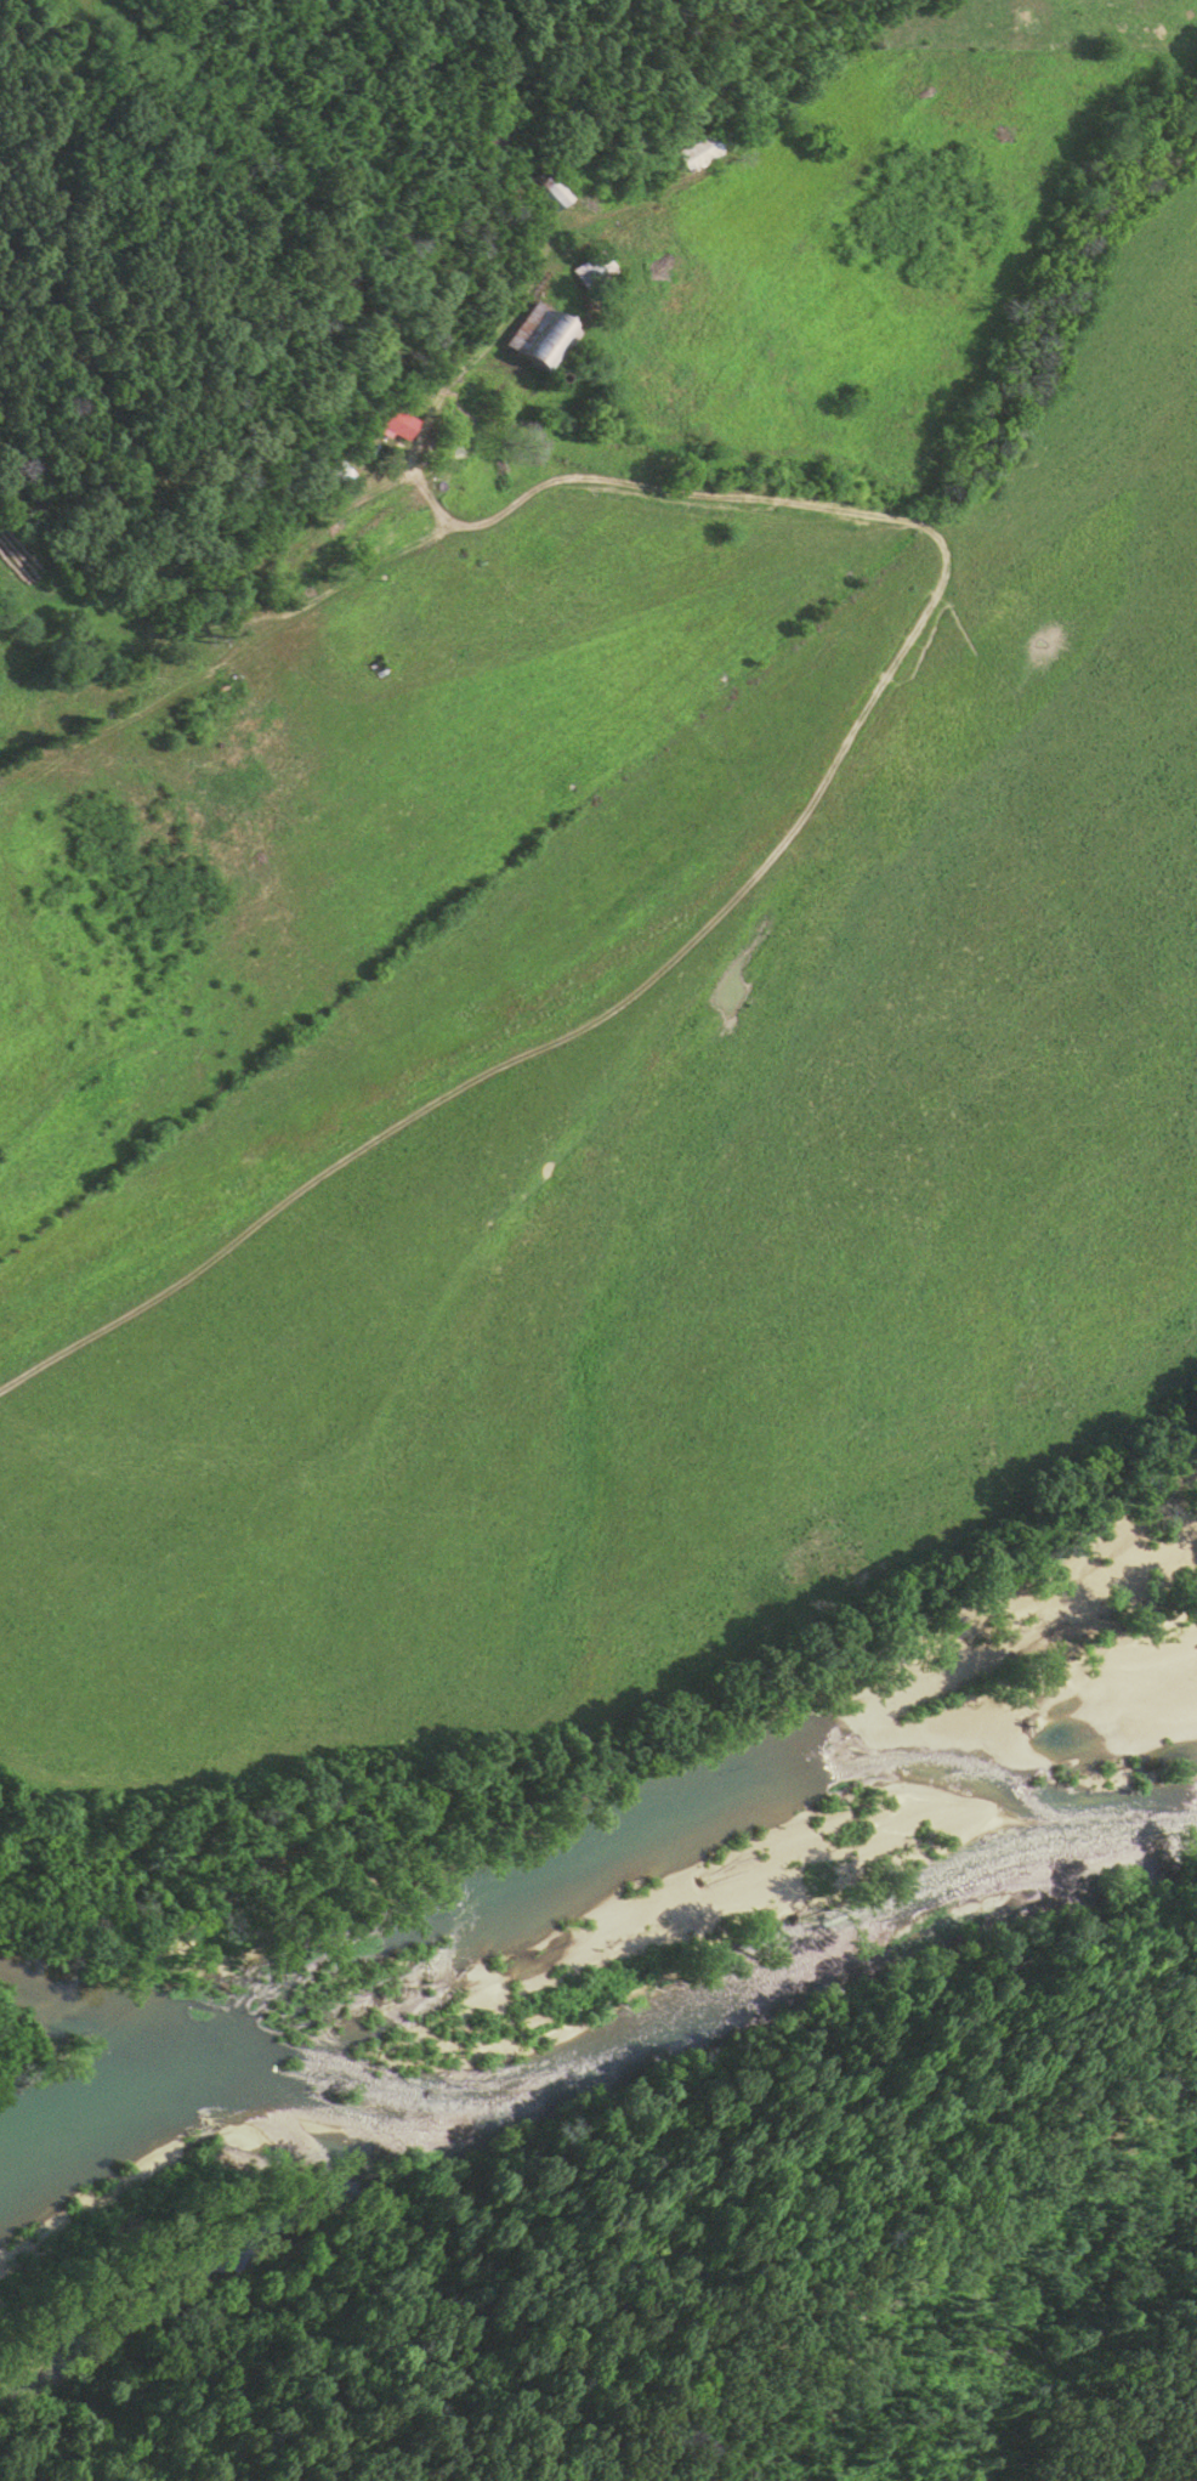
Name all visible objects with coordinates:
building: (551, 193)
road: (636, 206)
building: (544, 339)
building: (398, 425)
river: (566, 1879)
river: (608, 2072)
river: (125, 2092)

